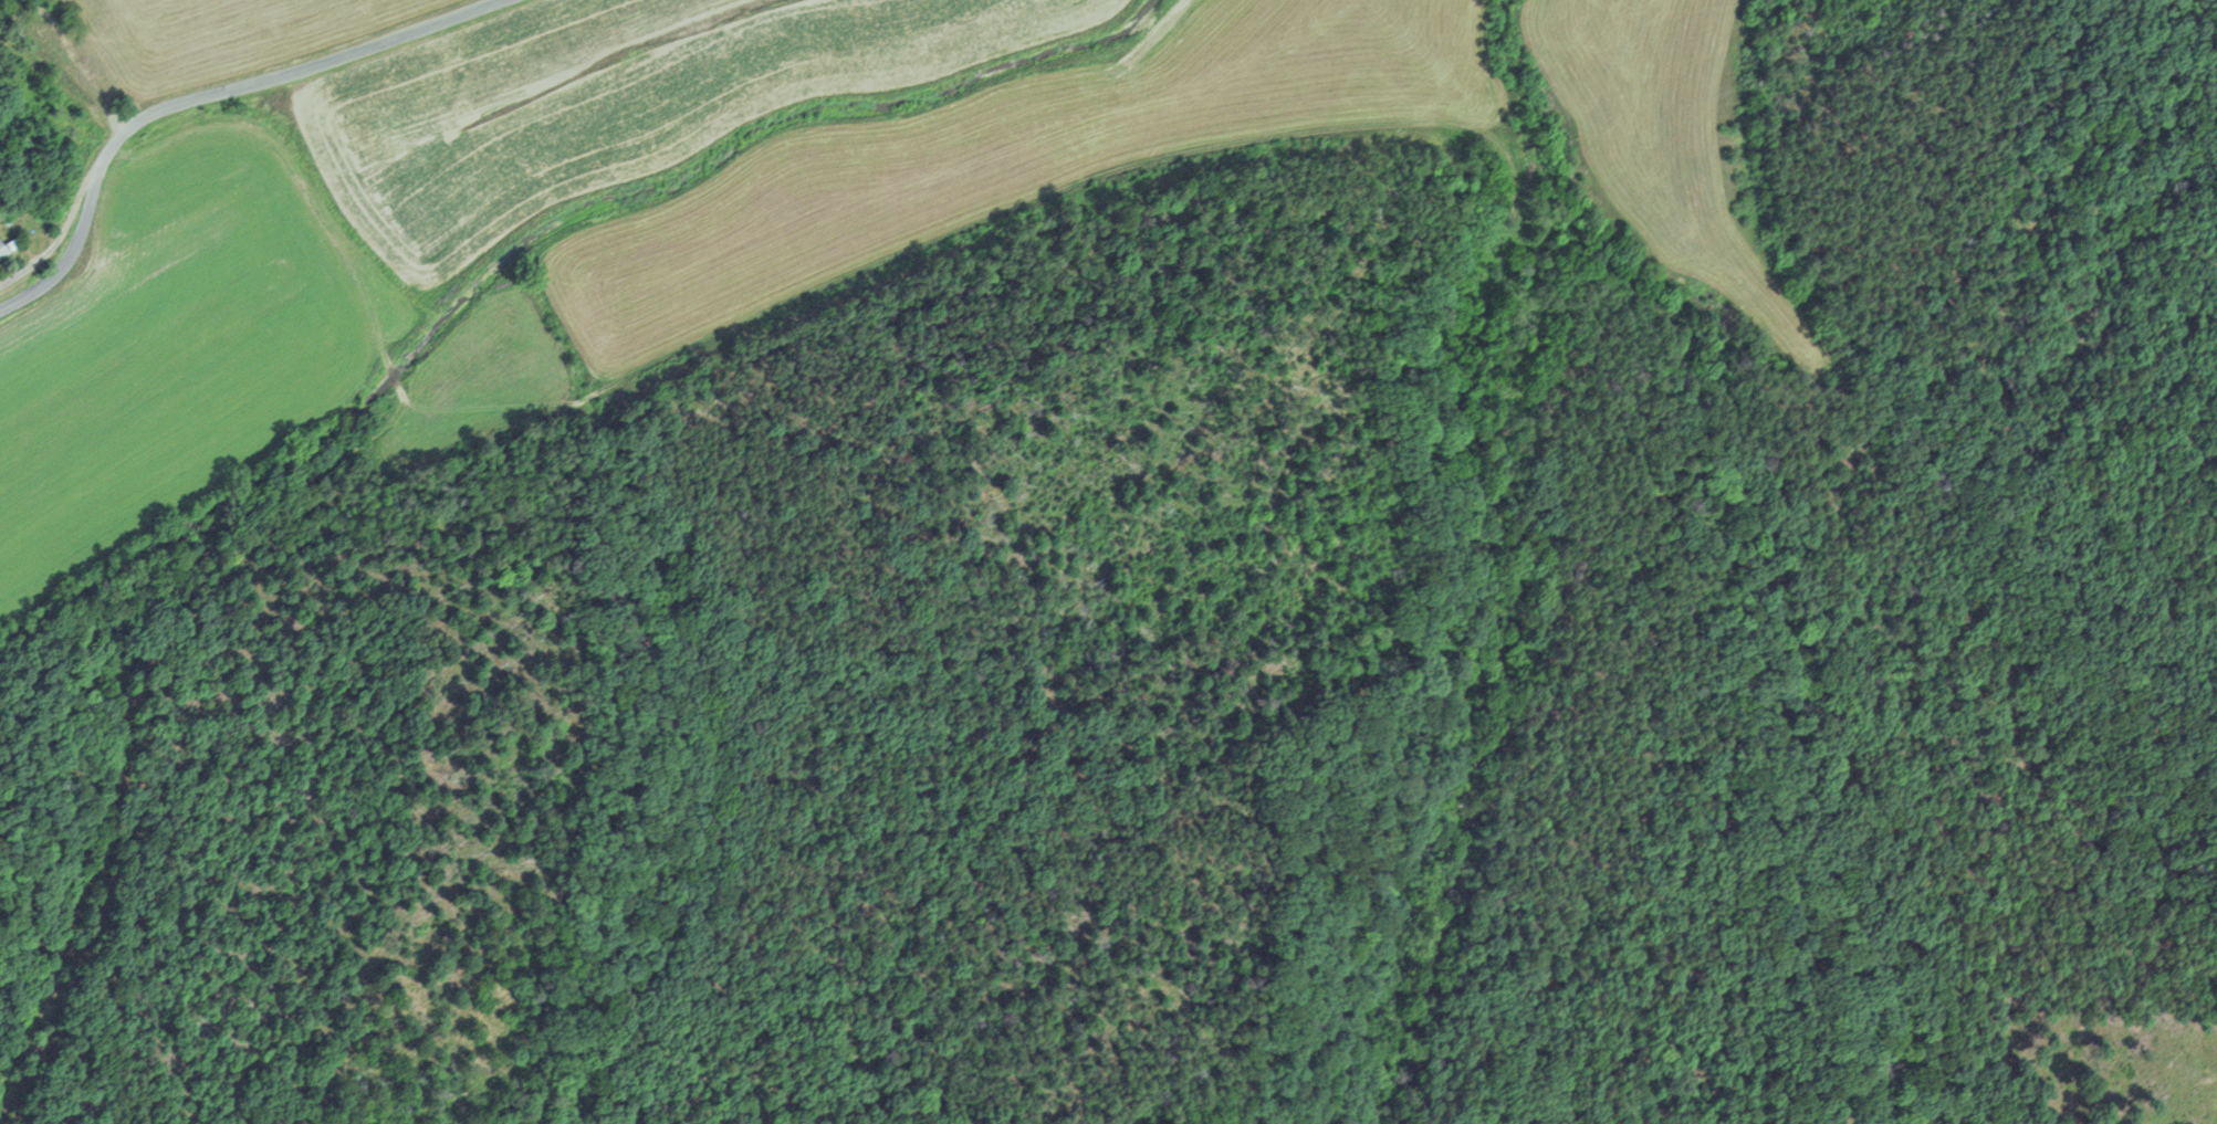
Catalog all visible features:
road: (191, 97)
road: (57, 240)
building: (9, 246)

